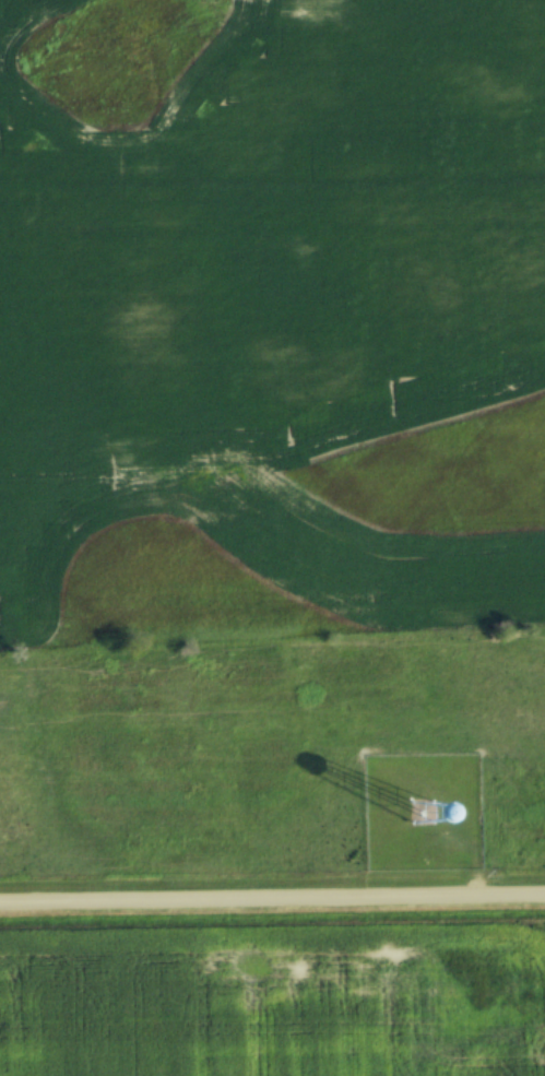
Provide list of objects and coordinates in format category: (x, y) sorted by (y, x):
building: (410, 812)
road: (272, 904)

